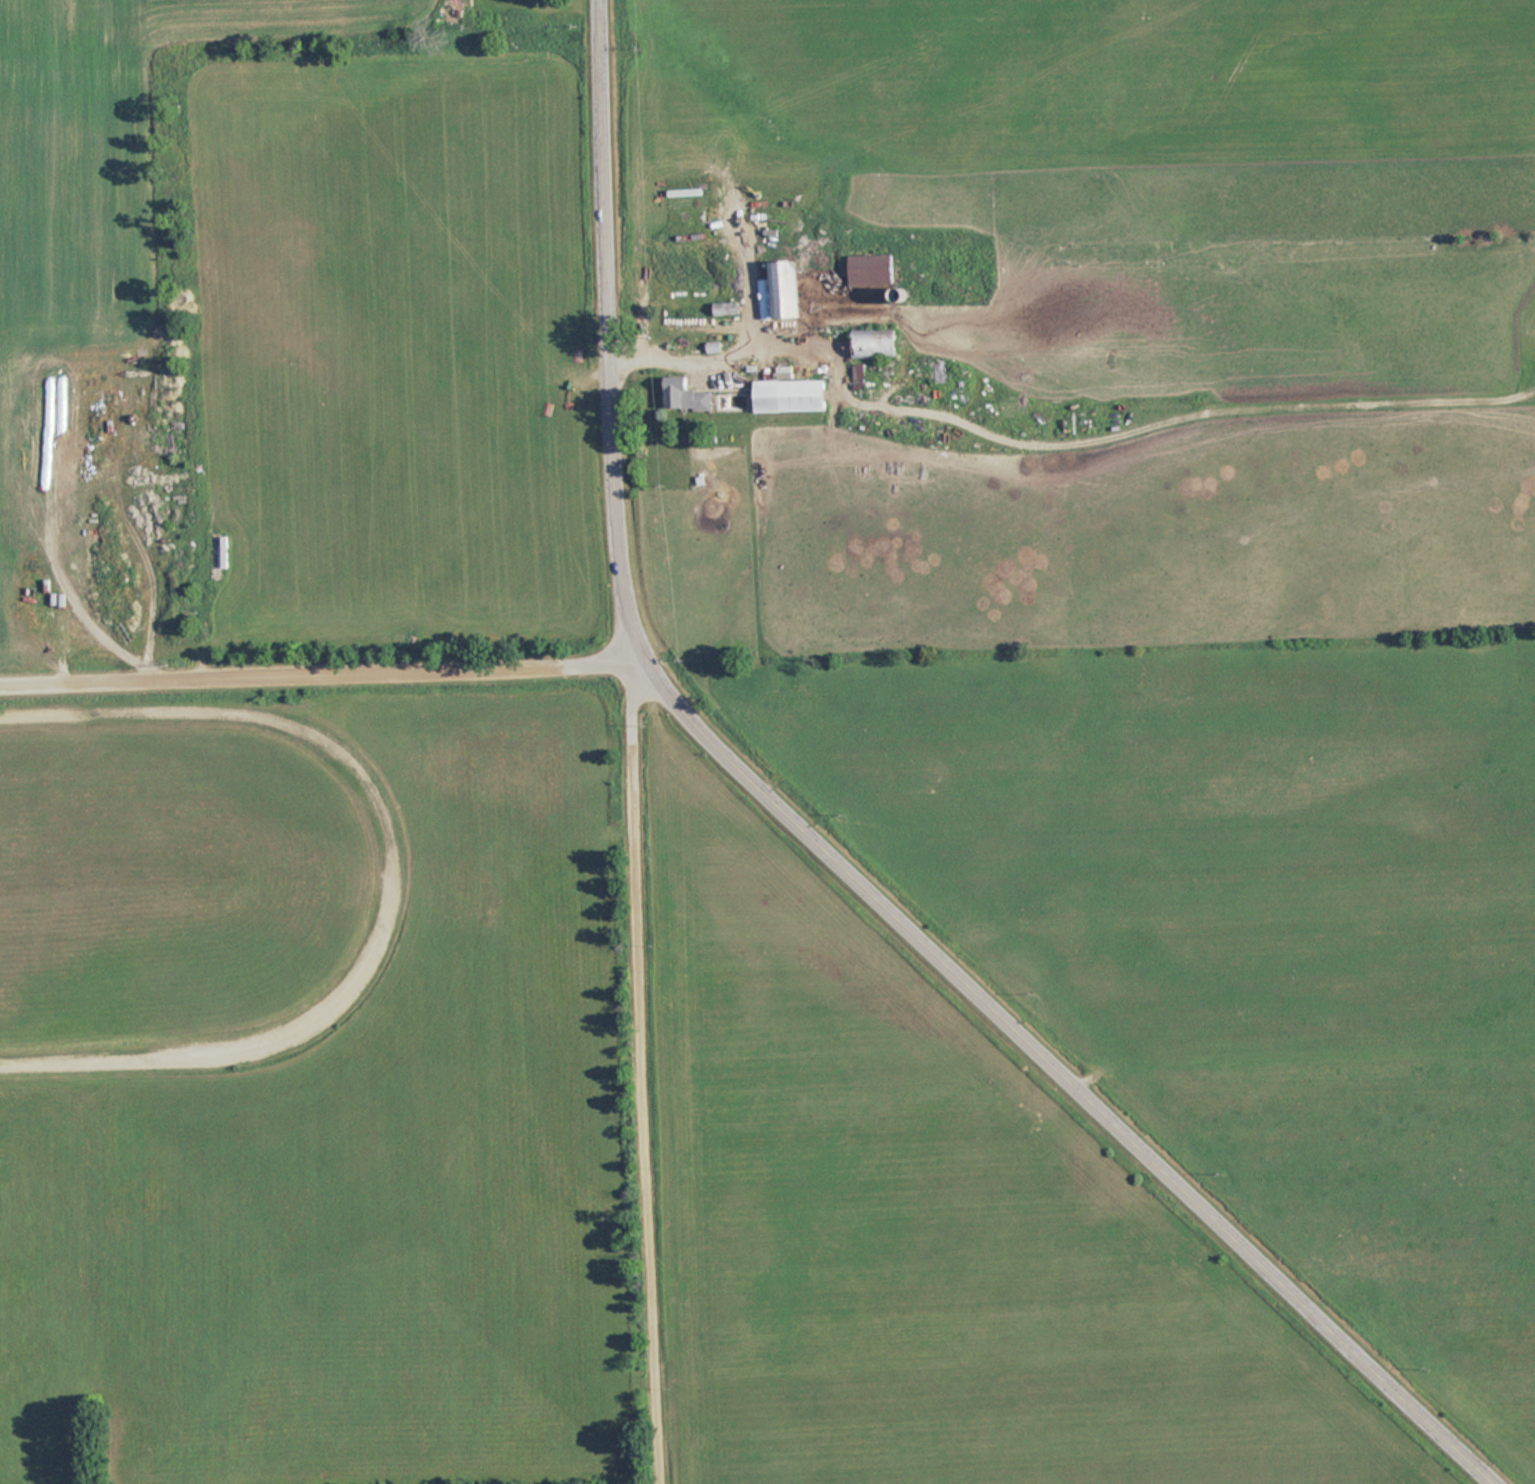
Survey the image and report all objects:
building: (871, 270)
building: (794, 281)
building: (874, 343)
building: (858, 376)
building: (686, 396)
building: (791, 396)
building: (172, 401)
building: (87, 462)
building: (136, 503)
road: (327, 669)
road: (834, 846)
road: (391, 881)
road: (647, 1069)

